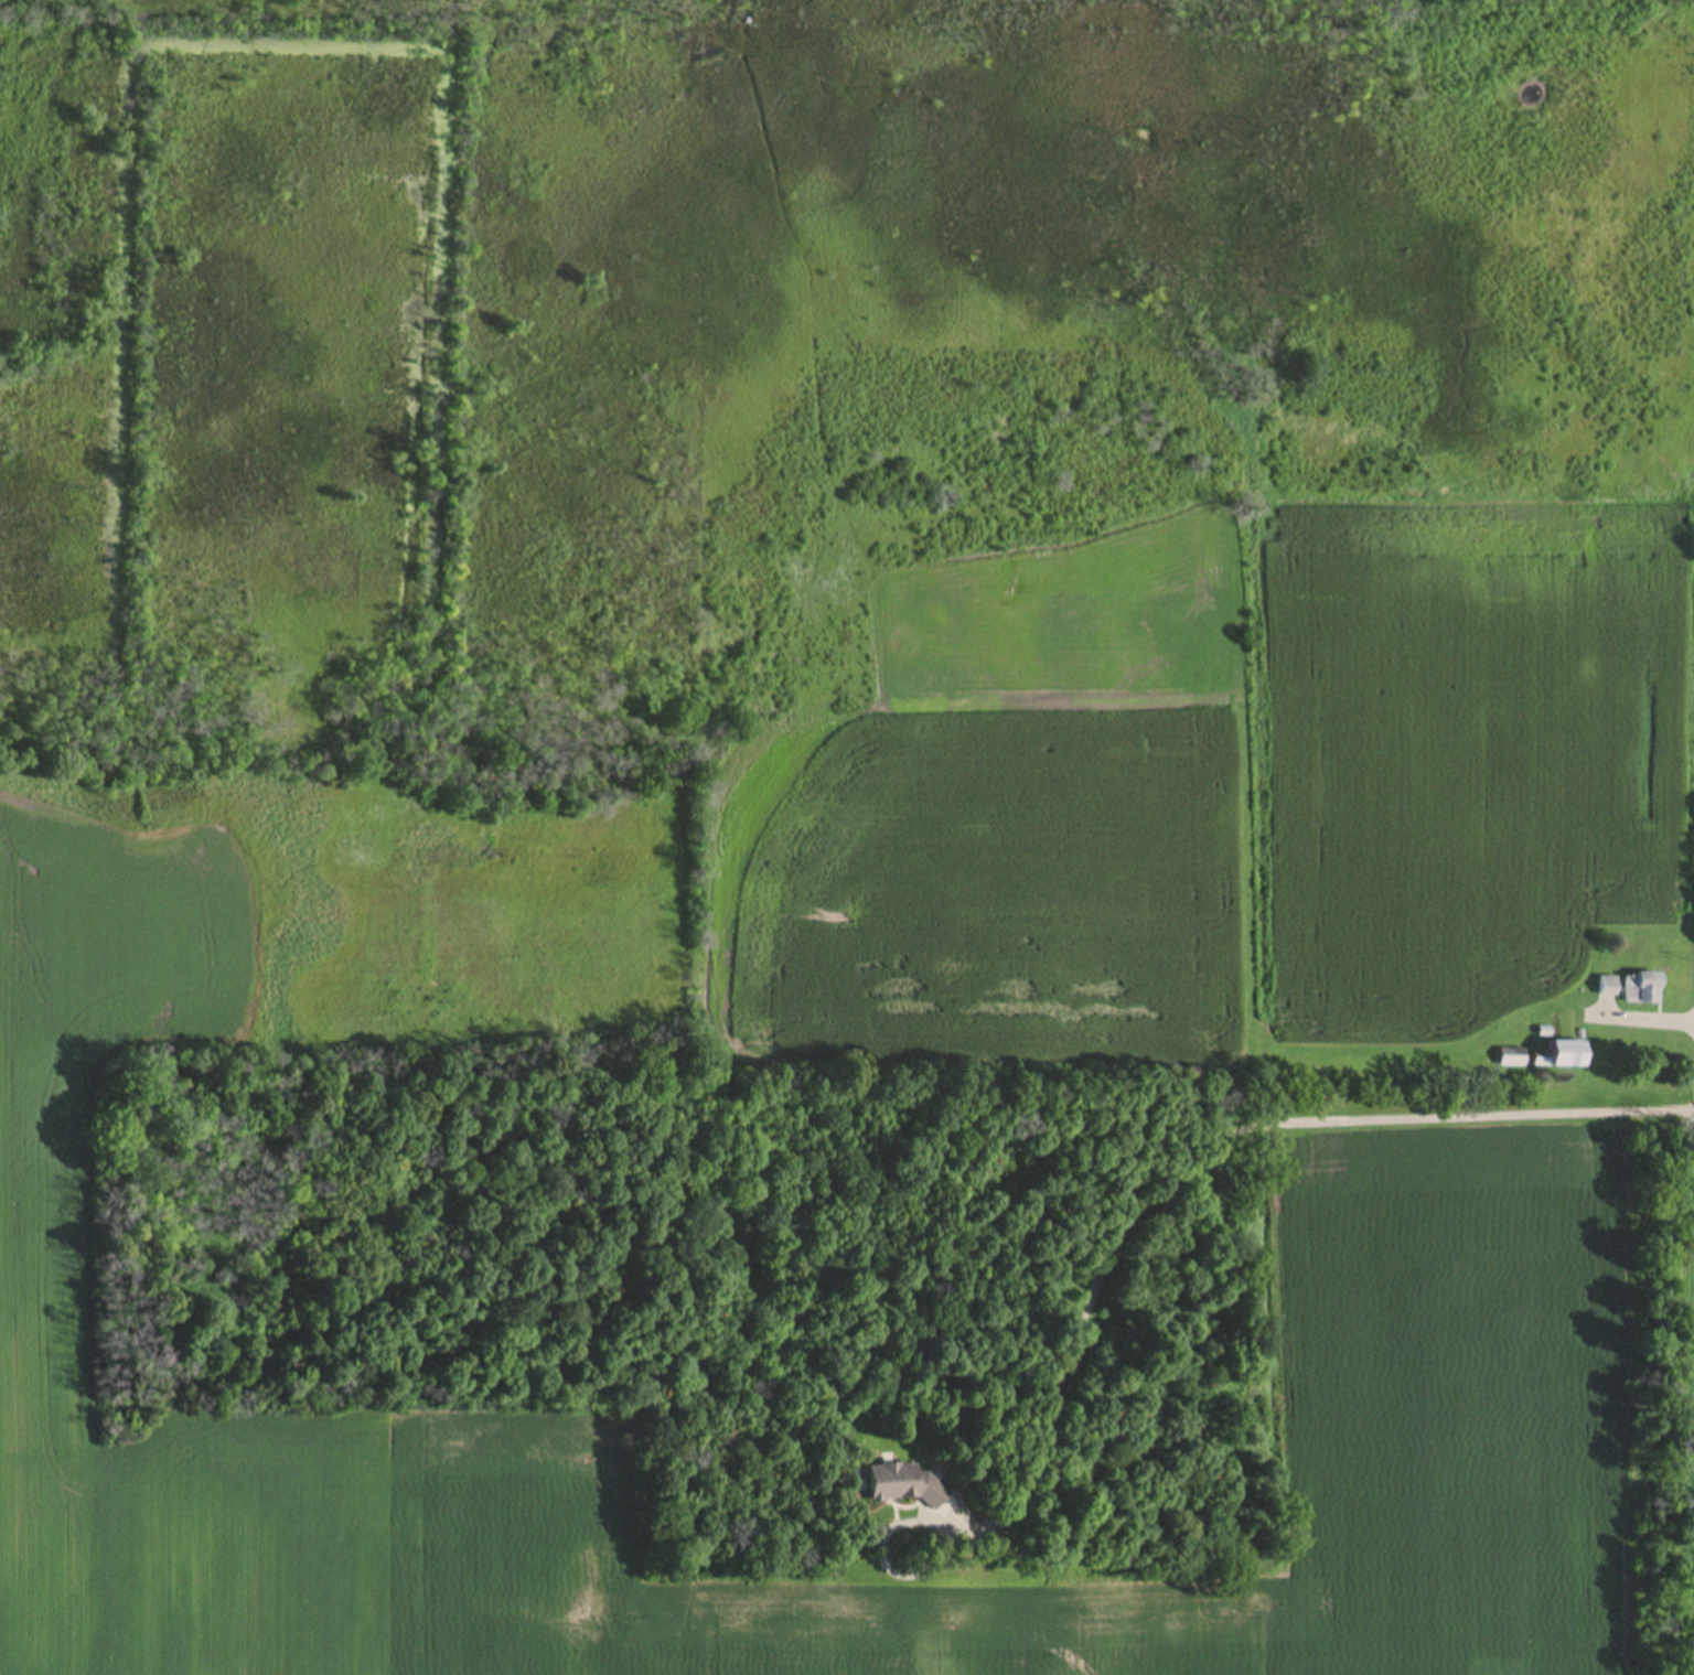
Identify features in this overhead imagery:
building: (1607, 990)
building: (1641, 991)
building: (1559, 1059)
building: (1513, 1061)
road: (1208, 1138)
building: (900, 1488)

